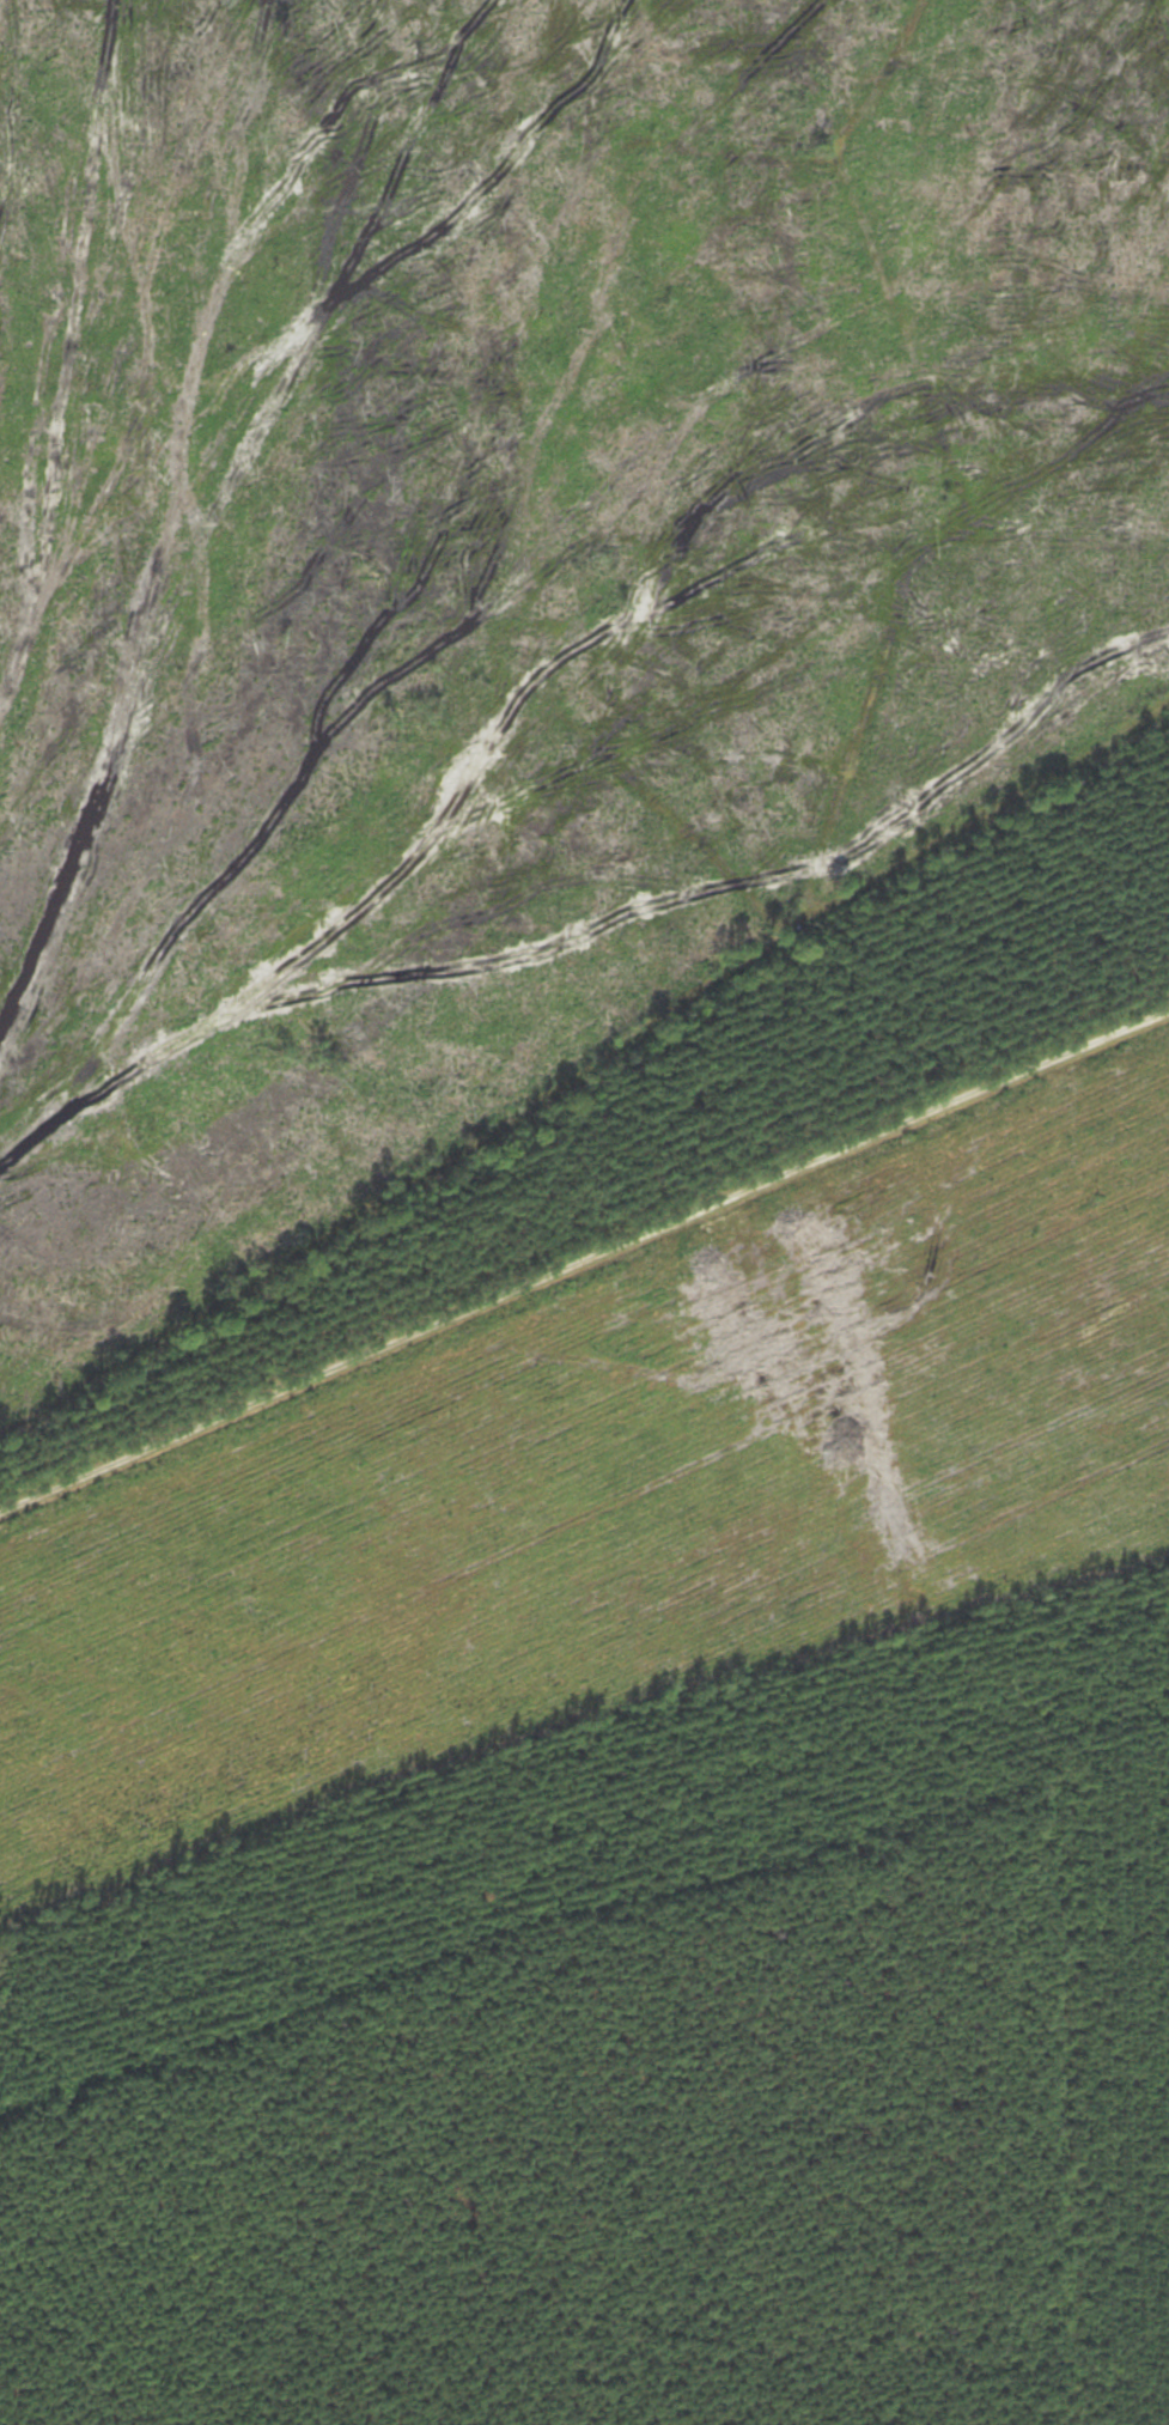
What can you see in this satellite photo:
road: (584, 1258)

